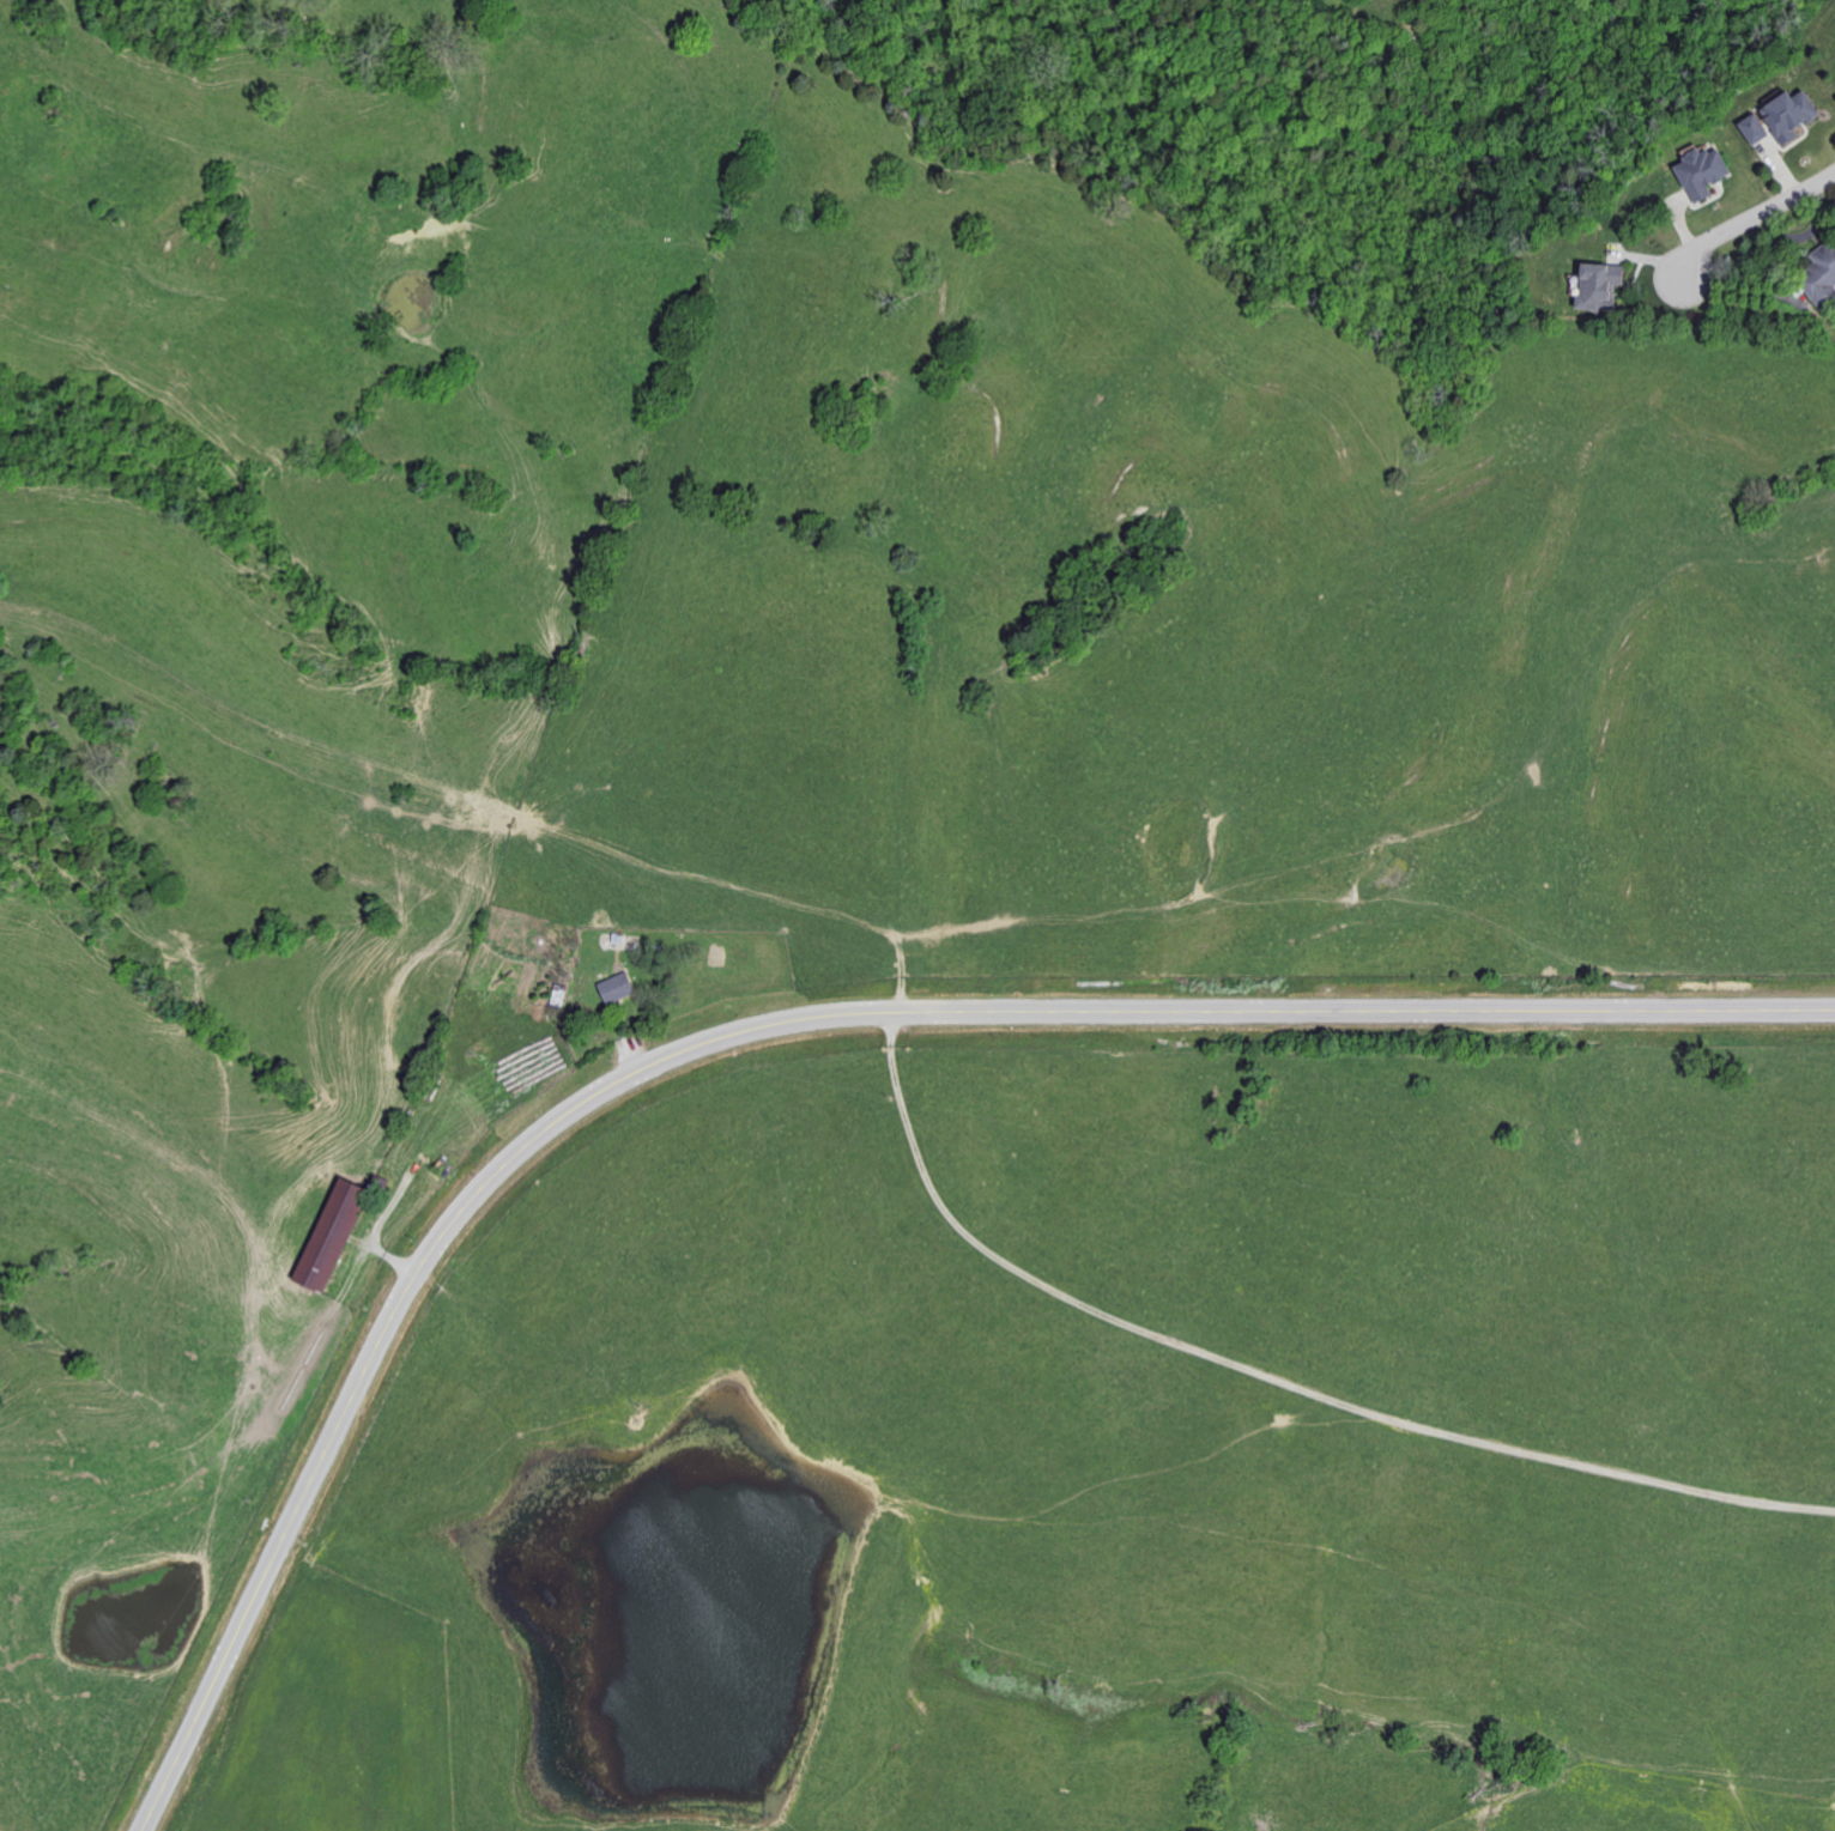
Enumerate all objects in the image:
building: (1789, 116)
building: (1754, 129)
building: (1702, 172)
road: (1751, 219)
building: (1822, 278)
building: (1599, 286)
building: (616, 987)
road: (773, 1029)
building: (331, 1235)
road: (1278, 1356)

